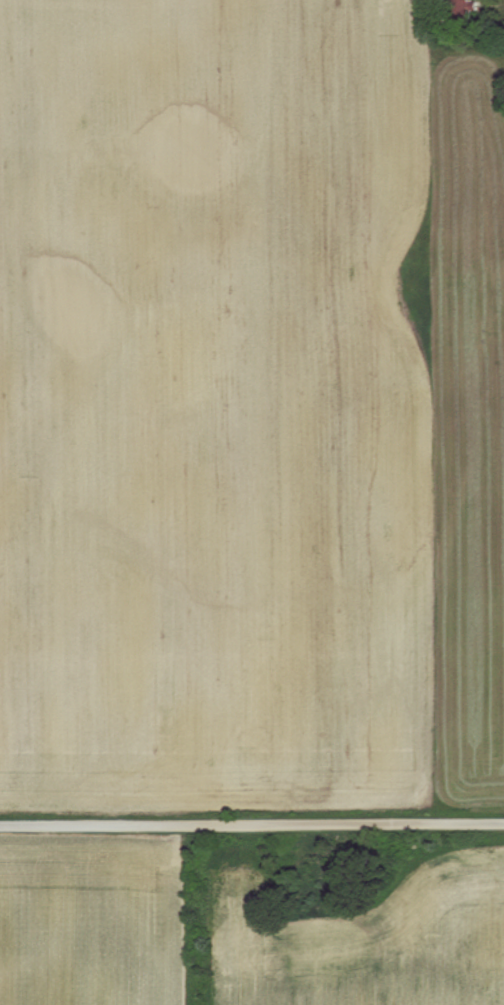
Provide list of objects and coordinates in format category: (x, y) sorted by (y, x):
road: (251, 823)

